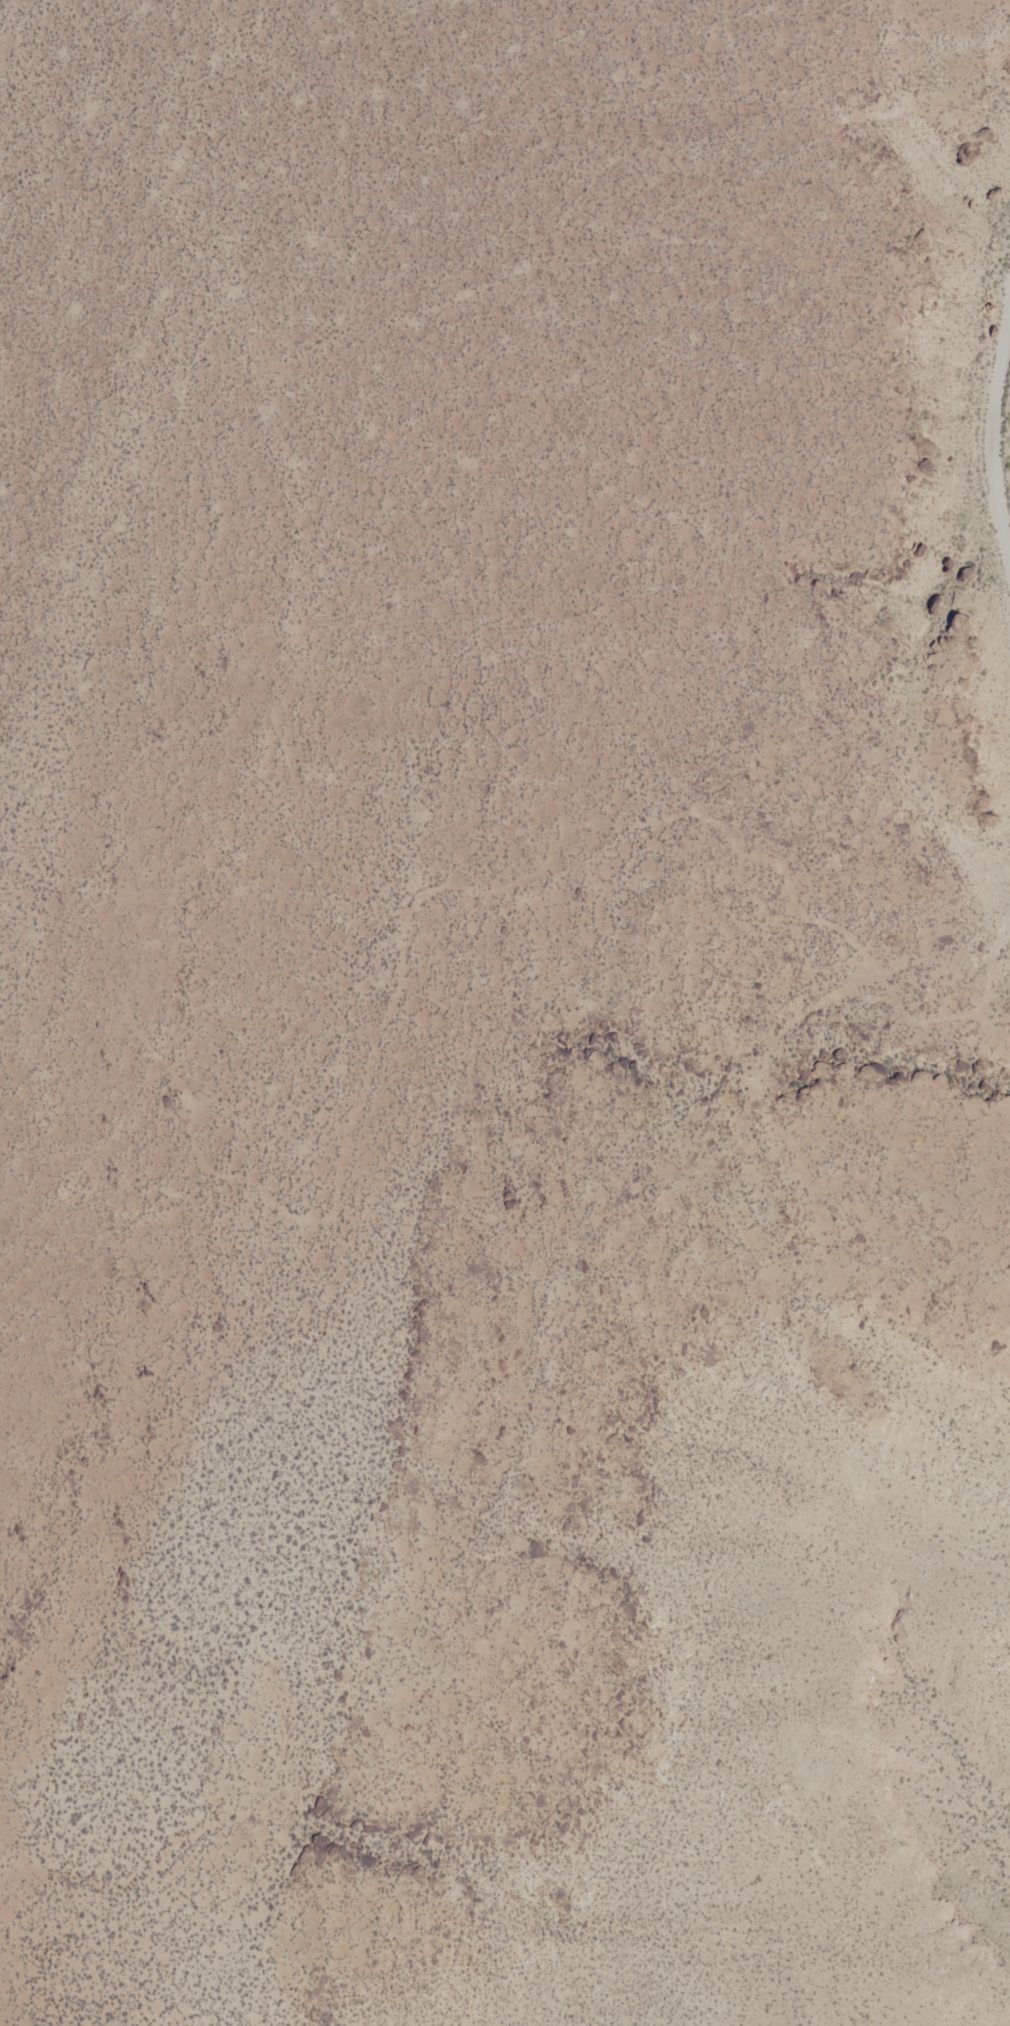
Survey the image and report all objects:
road: (994, 419)

